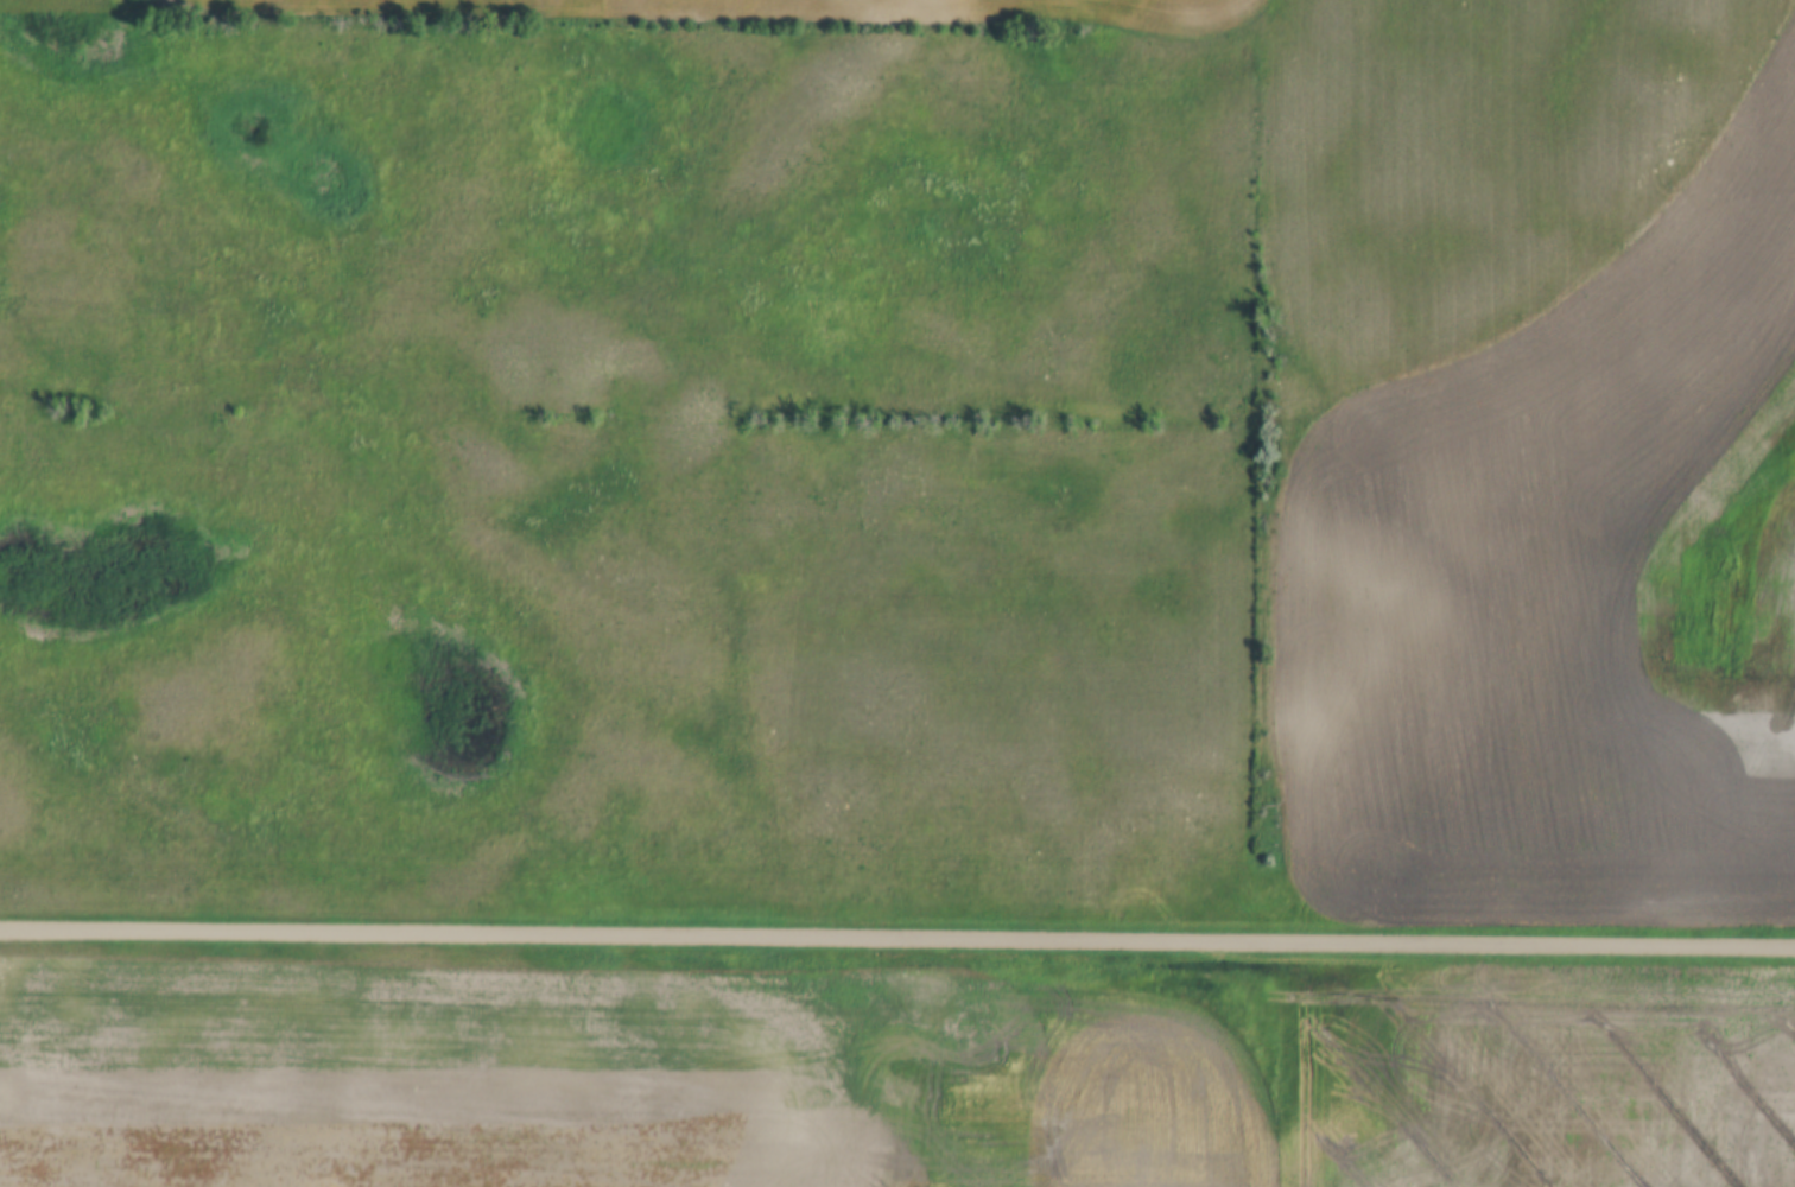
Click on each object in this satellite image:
road: (897, 937)

